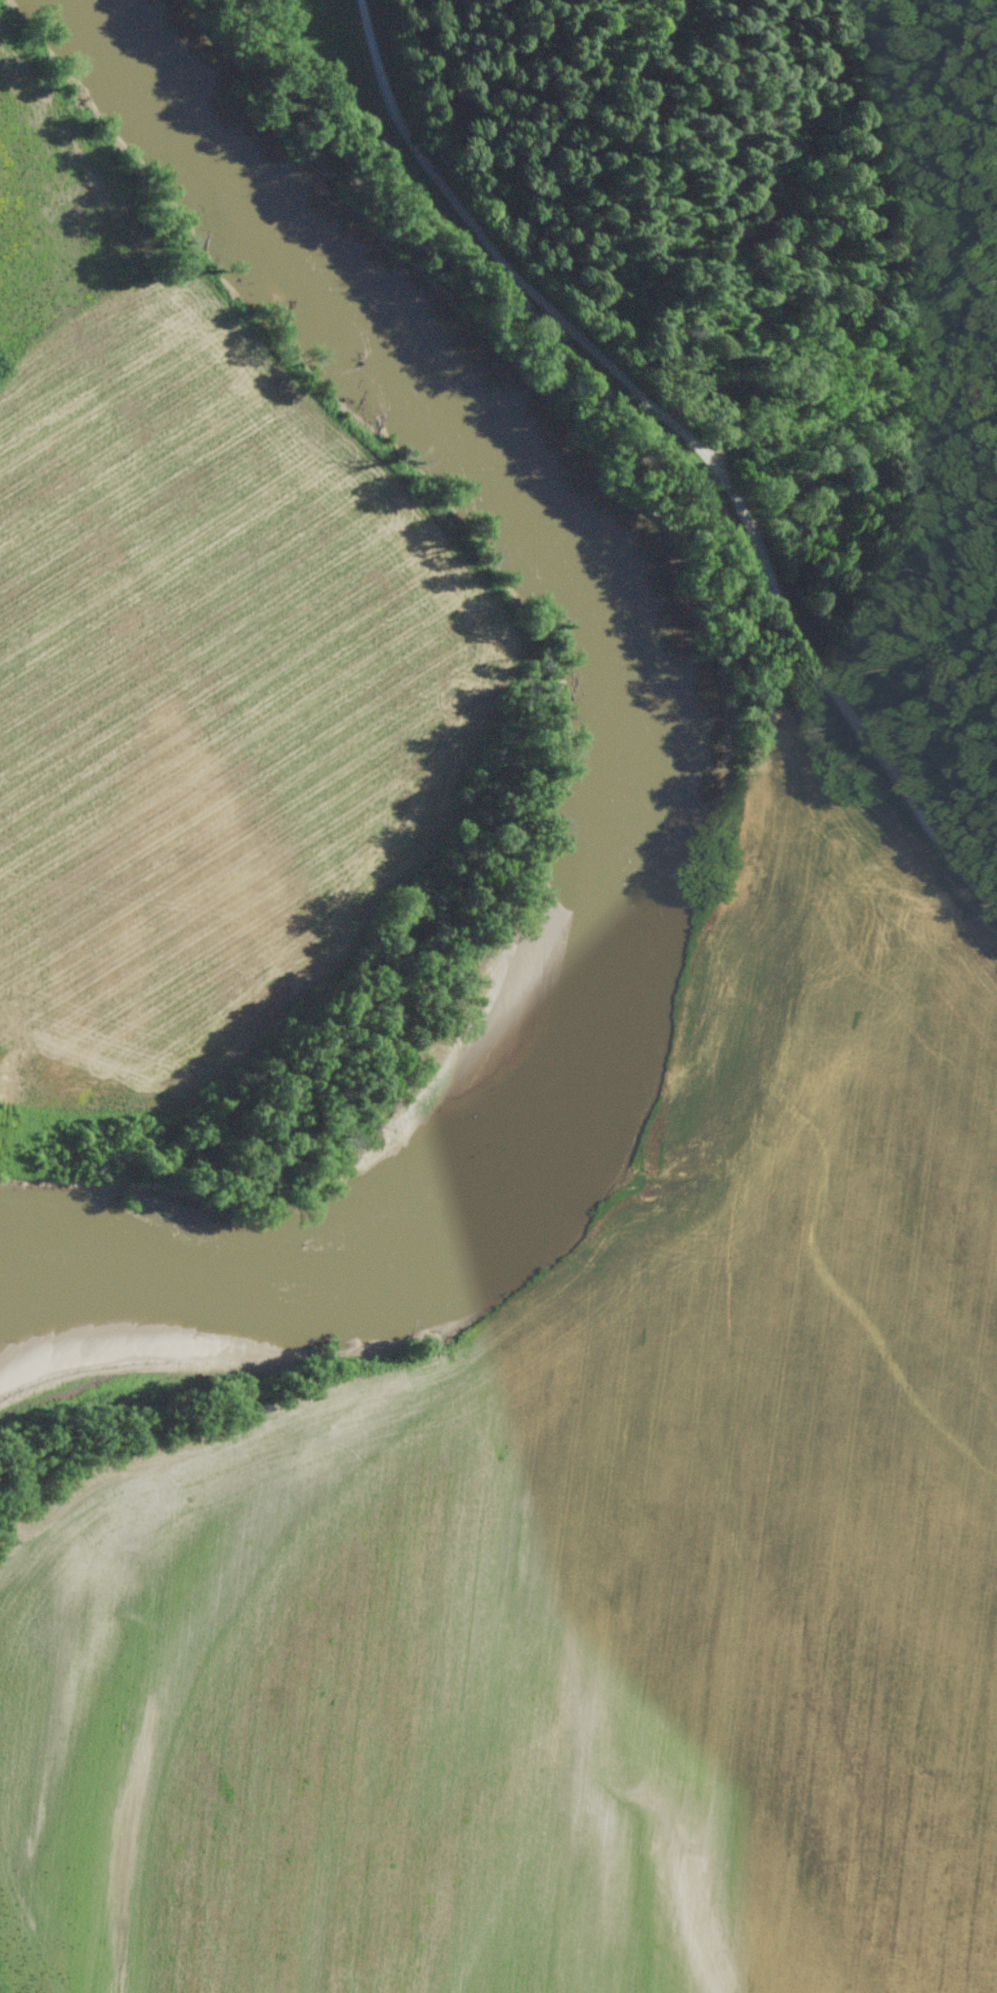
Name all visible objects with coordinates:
road: (675, 459)
river: (659, 773)

